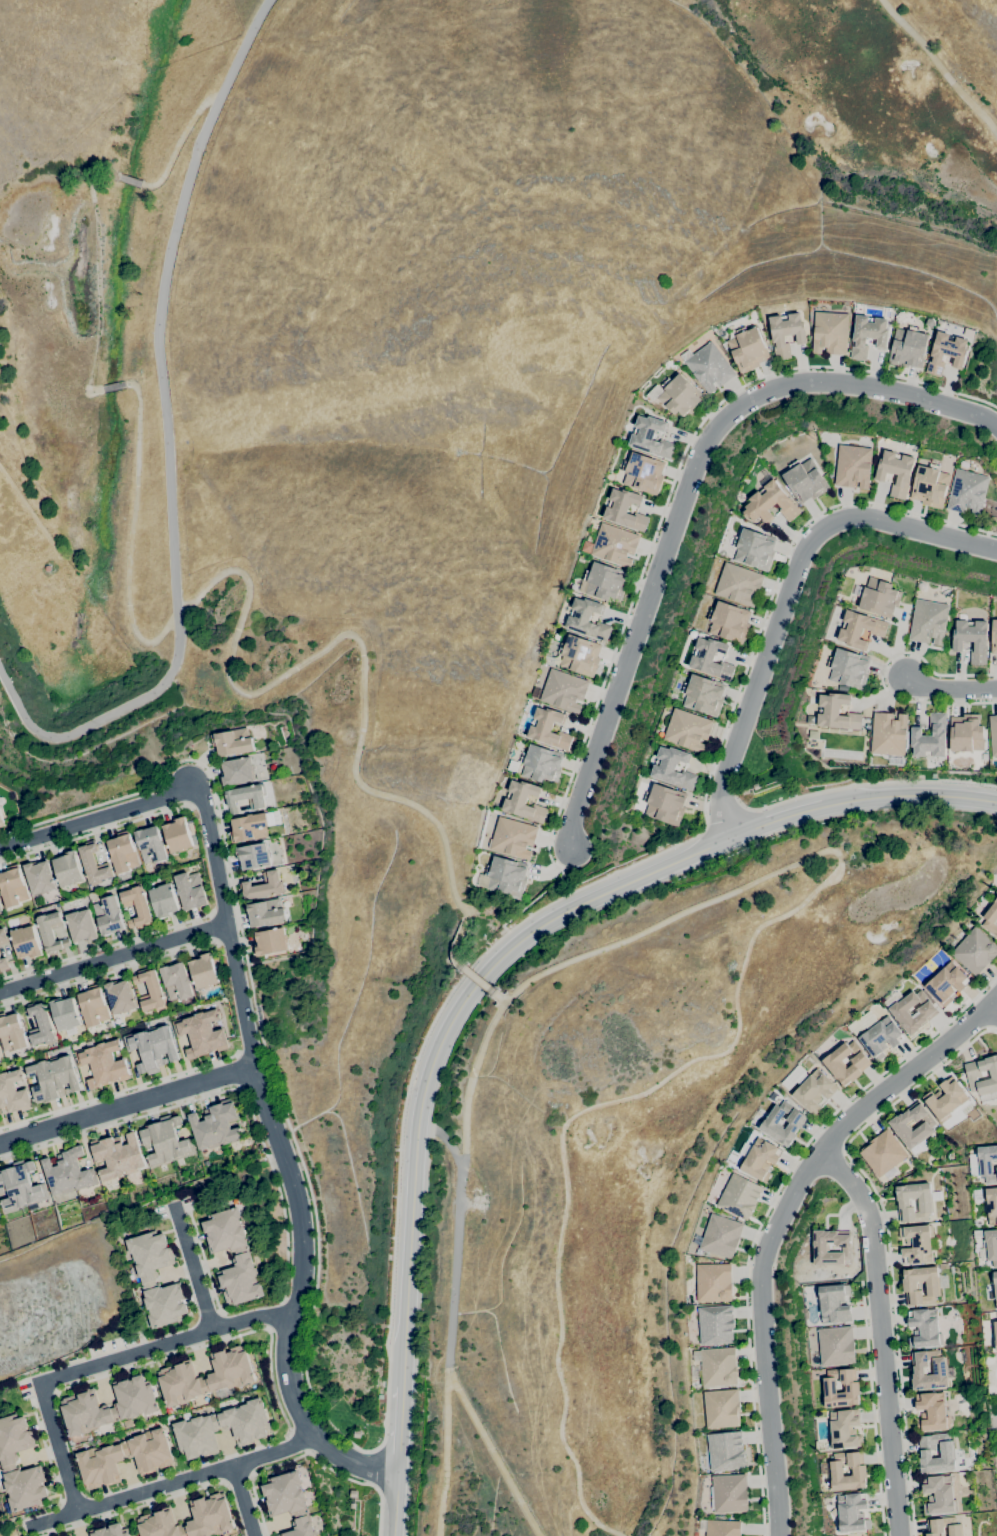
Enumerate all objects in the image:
road: (939, 67)
road: (178, 143)
road: (92, 177)
road: (128, 180)
road: (98, 294)
building: (786, 333)
building: (830, 333)
building: (969, 333)
building: (867, 335)
building: (908, 347)
building: (747, 349)
building: (946, 353)
building: (709, 367)
road: (113, 386)
road: (91, 391)
building: (680, 396)
building: (650, 437)
road: (167, 439)
building: (853, 466)
building: (896, 472)
building: (643, 473)
building: (805, 481)
building: (930, 486)
road: (685, 492)
building: (968, 492)
road: (668, 494)
building: (773, 502)
building: (625, 510)
building: (613, 545)
building: (754, 549)
park: (477, 557)
building: (605, 581)
building: (739, 584)
road: (788, 593)
building: (879, 597)
building: (587, 619)
building: (729, 622)
building: (928, 622)
building: (860, 629)
building: (994, 638)
building: (971, 639)
building: (579, 655)
building: (711, 659)
building: (849, 669)
road: (996, 670)
road: (881, 672)
road: (949, 687)
building: (564, 690)
road: (240, 691)
building: (704, 695)
building: (837, 712)
building: (549, 728)
building: (688, 730)
building: (966, 733)
building: (888, 734)
building: (993, 734)
building: (930, 737)
building: (232, 742)
building: (542, 764)
building: (513, 766)
building: (673, 768)
building: (237, 771)
road: (860, 785)
building: (756, 786)
building: (745, 790)
building: (245, 797)
building: (1, 801)
building: (524, 802)
building: (665, 804)
road: (725, 817)
building: (1, 821)
building: (248, 827)
road: (95, 831)
building: (177, 837)
building: (513, 837)
building: (150, 845)
building: (122, 853)
building: (253, 856)
building: (93, 864)
building: (66, 868)
building: (507, 876)
building: (39, 877)
building: (264, 886)
building: (12, 887)
building: (190, 890)
building: (163, 900)
building: (137, 907)
building: (0, 909)
building: (0, 911)
building: (265, 913)
building: (108, 915)
building: (991, 919)
building: (81, 926)
building: (51, 932)
road: (532, 932)
building: (3, 937)
building: (270, 941)
building: (25, 942)
road: (108, 944)
building: (975, 951)
road: (113, 957)
building: (4, 964)
building: (203, 971)
road: (106, 973)
road: (741, 975)
road: (479, 979)
building: (176, 982)
building: (947, 983)
building: (149, 990)
building: (120, 996)
road: (500, 998)
building: (92, 1006)
road: (994, 1009)
building: (64, 1014)
building: (926, 1015)
building: (40, 1025)
building: (11, 1032)
road: (995, 1032)
building: (201, 1033)
building: (881, 1037)
building: (152, 1047)
road: (250, 1055)
building: (103, 1063)
building: (833, 1063)
building: (973, 1074)
building: (53, 1078)
road: (914, 1086)
road: (117, 1091)
road: (223, 1091)
building: (814, 1091)
building: (13, 1092)
building: (946, 1099)
road: (126, 1105)
building: (771, 1125)
building: (216, 1126)
building: (900, 1126)
building: (164, 1141)
road: (445, 1141)
building: (882, 1153)
building: (117, 1155)
building: (759, 1158)
building: (984, 1163)
building: (68, 1173)
building: (20, 1186)
building: (978, 1195)
building: (739, 1197)
building: (925, 1204)
building: (992, 1205)
road: (768, 1208)
road: (777, 1222)
building: (721, 1236)
building: (916, 1244)
building: (992, 1246)
building: (821, 1250)
road: (202, 1256)
building: (243, 1259)
road: (454, 1263)
road: (192, 1267)
building: (147, 1280)
road: (392, 1281)
building: (714, 1282)
building: (995, 1284)
building: (932, 1286)
building: (834, 1304)
building: (715, 1325)
building: (924, 1328)
building: (996, 1334)
road: (879, 1336)
road: (896, 1338)
road: (165, 1343)
road: (212, 1344)
building: (836, 1346)
building: (717, 1367)
building: (939, 1370)
building: (230, 1377)
building: (851, 1388)
building: (135, 1406)
building: (722, 1409)
road: (871, 1409)
building: (931, 1411)
road: (400, 1428)
building: (195, 1429)
building: (844, 1429)
building: (356, 1434)
road: (57, 1447)
road: (44, 1450)
building: (726, 1450)
building: (947, 1454)
road: (446, 1455)
road: (493, 1455)
building: (99, 1458)
building: (8, 1461)
road: (332, 1469)
building: (859, 1471)
road: (171, 1483)
building: (353, 1493)
building: (729, 1493)
building: (938, 1495)
road: (242, 1500)
building: (289, 1502)
road: (395, 1502)
building: (352, 1505)
road: (135, 1507)
road: (258, 1508)
building: (852, 1512)
building: (211, 1515)
building: (945, 1526)
building: (720, 1527)
building: (110, 1531)

